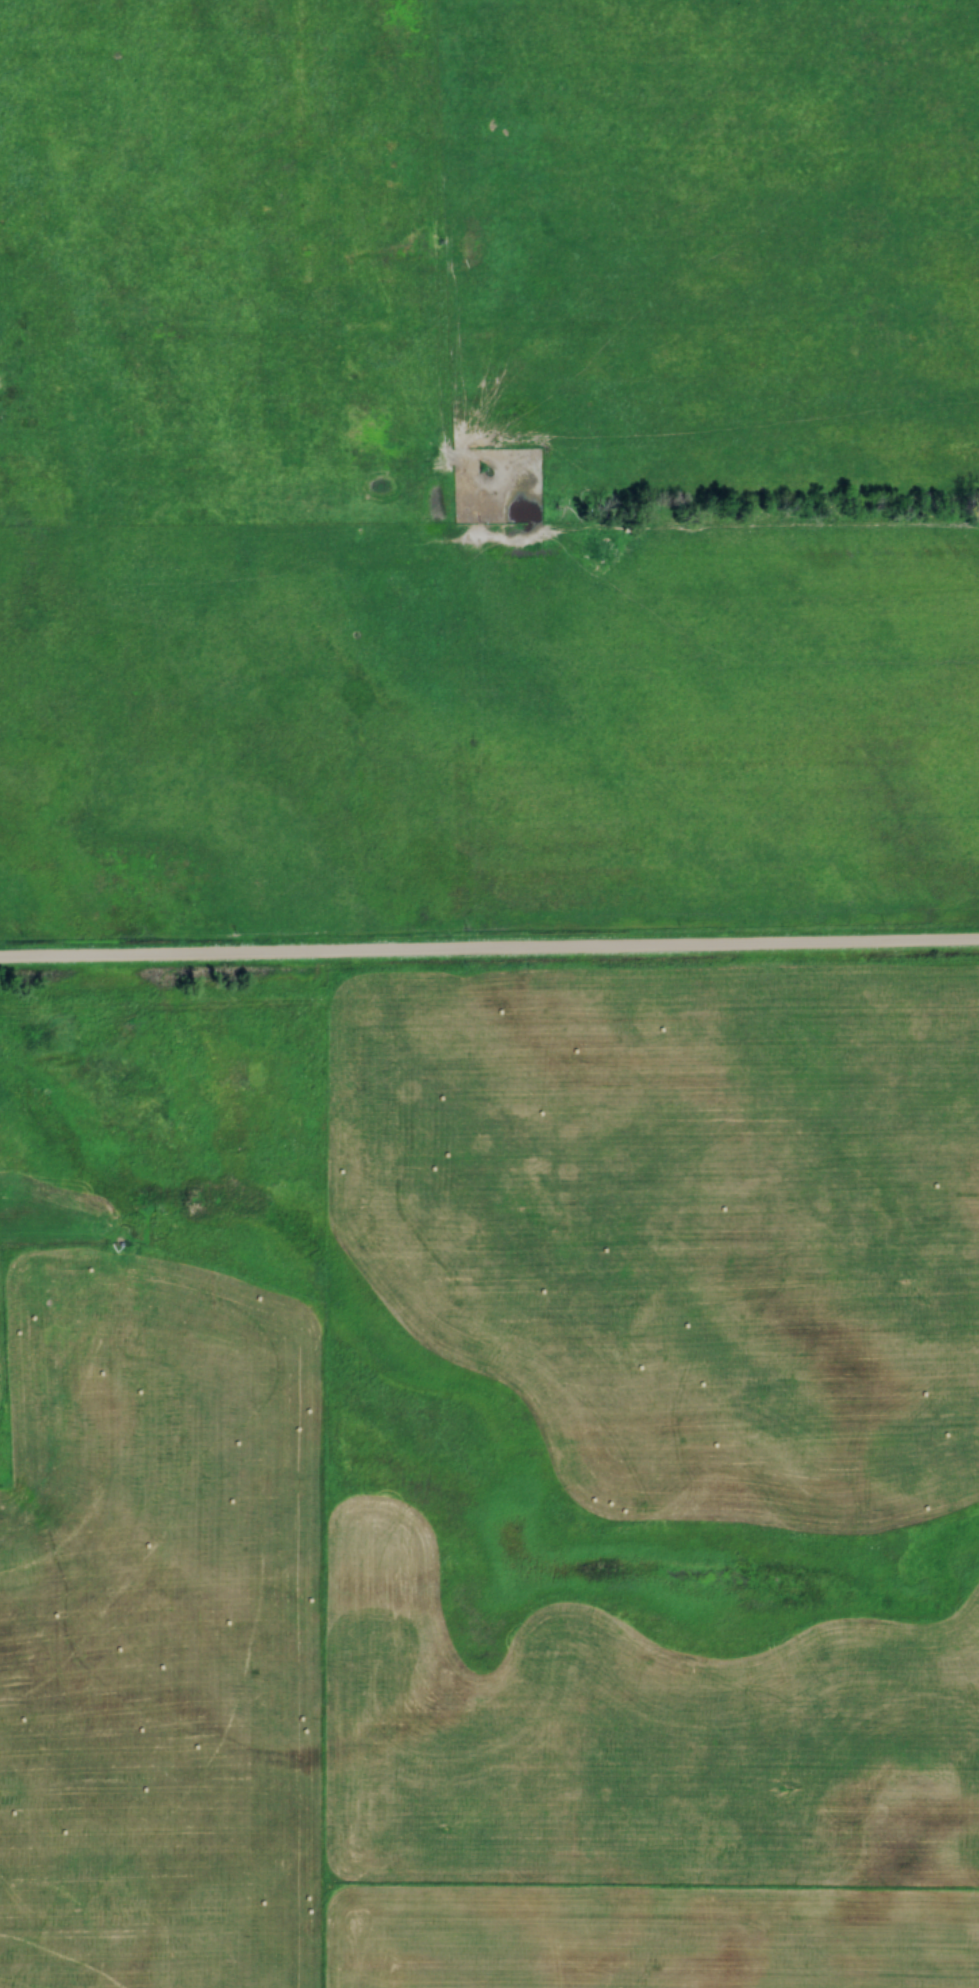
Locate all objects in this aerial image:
road: (489, 954)

